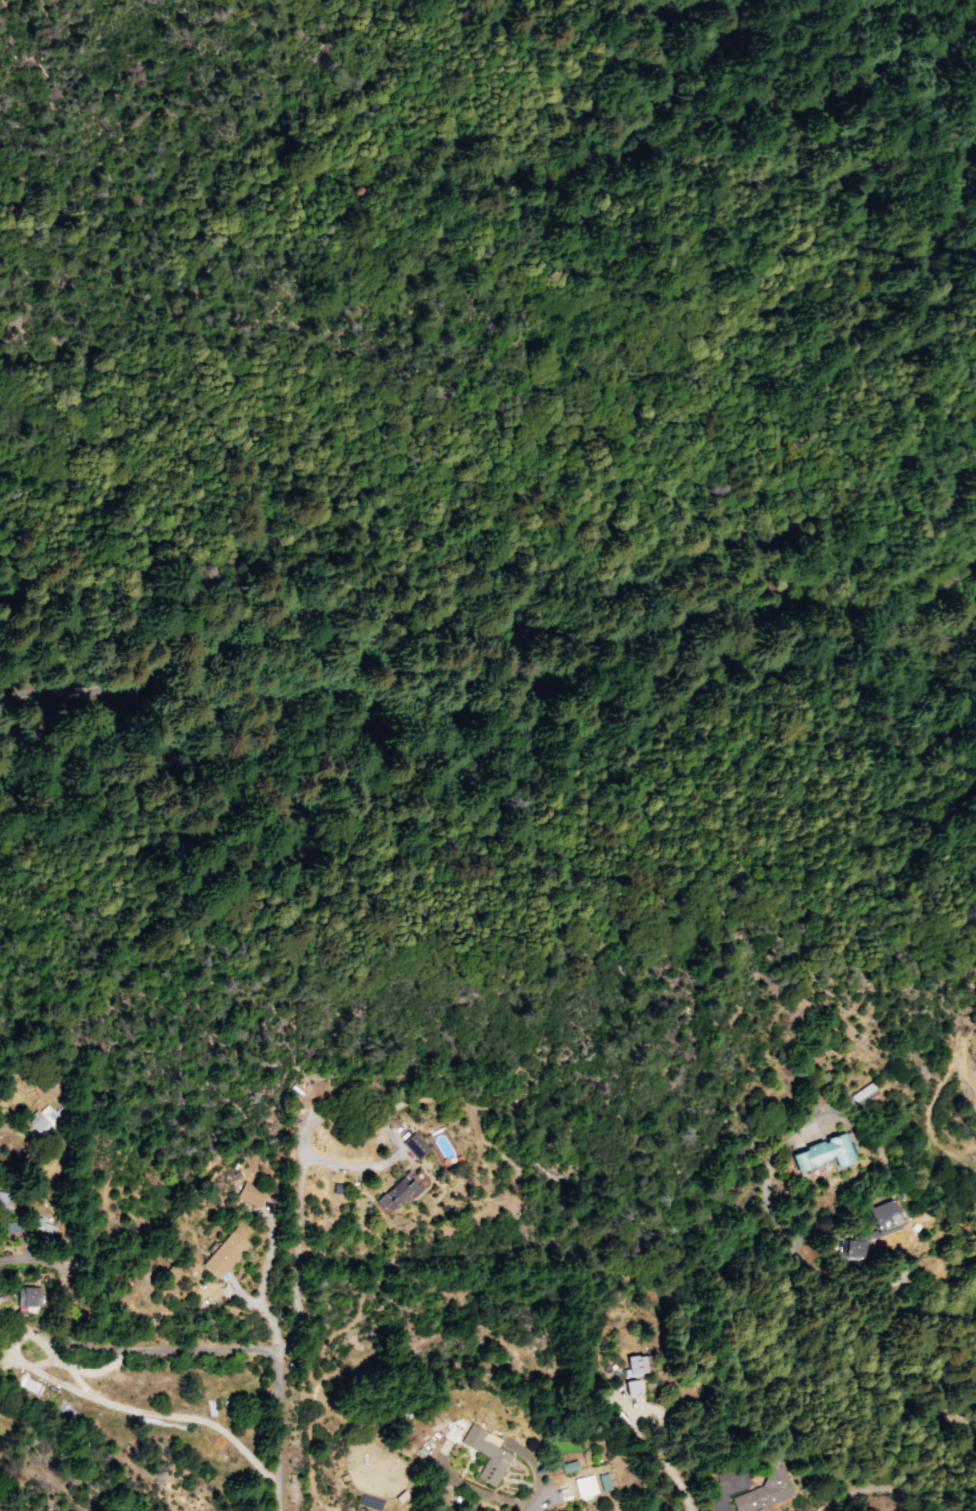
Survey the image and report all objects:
road: (485, 638)
building: (45, 1119)
building: (418, 1145)
building: (823, 1152)
road: (317, 1159)
building: (340, 1189)
building: (398, 1191)
building: (255, 1193)
road: (63, 1195)
building: (246, 1195)
building: (8, 1201)
building: (43, 1224)
road: (829, 1225)
building: (888, 1229)
road: (28, 1247)
building: (228, 1252)
road: (266, 1256)
road: (811, 1263)
road: (927, 1290)
building: (31, 1296)
road: (903, 1301)
road: (261, 1310)
road: (23, 1319)
road: (105, 1350)
road: (957, 1353)
road: (42, 1364)
building: (631, 1378)
road: (79, 1382)
road: (79, 1394)
road: (646, 1405)
building: (618, 1419)
road: (277, 1430)
building: (489, 1453)
road: (535, 1473)
road: (670, 1473)
building: (602, 1480)
building: (584, 1486)
building: (764, 1488)
road: (898, 1488)
road: (724, 1494)
road: (872, 1499)

